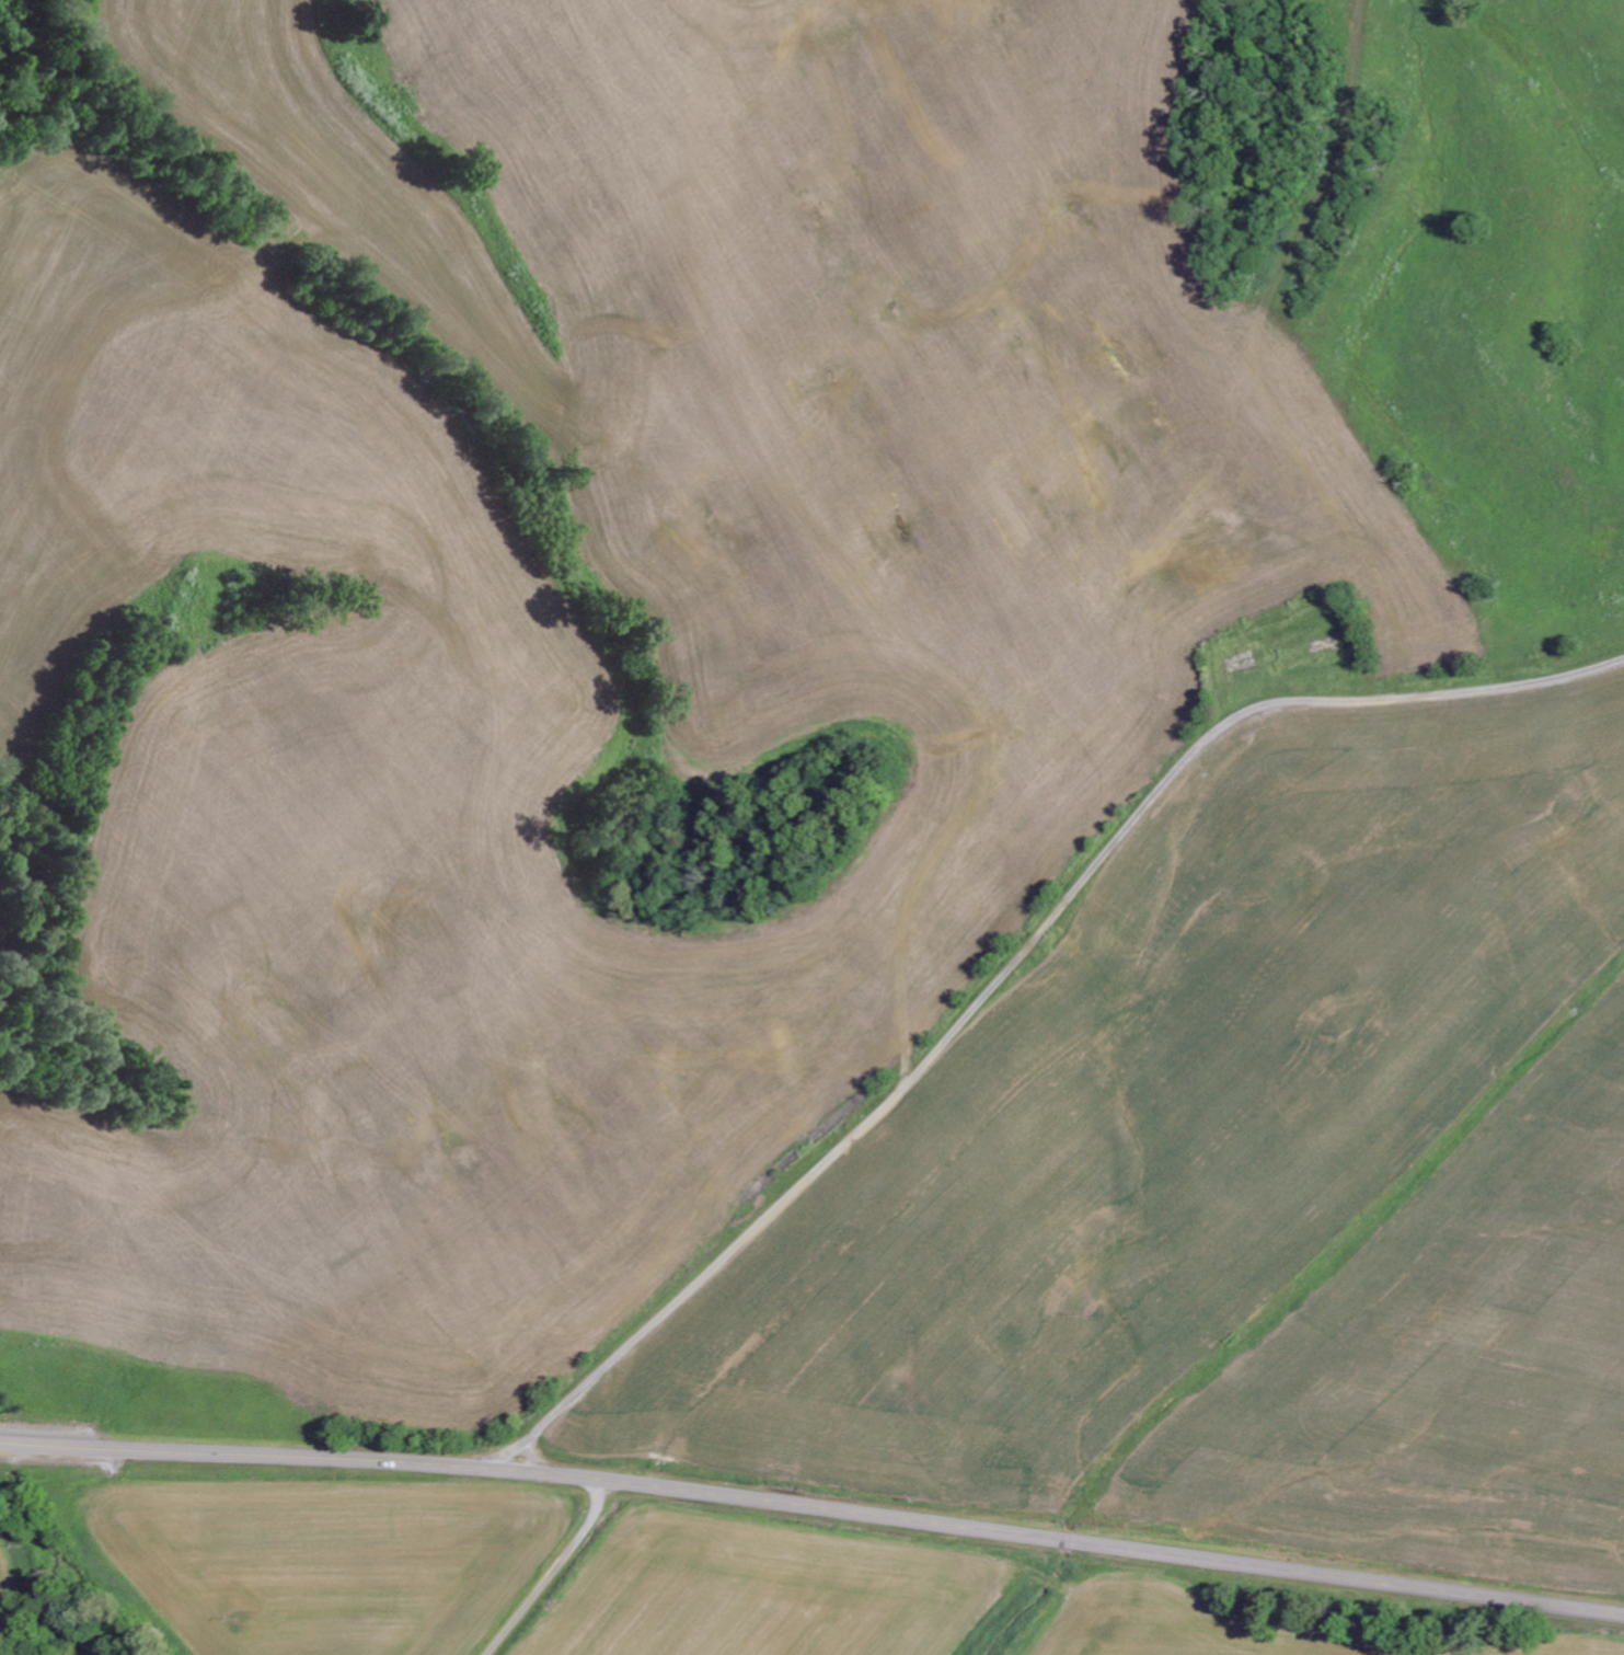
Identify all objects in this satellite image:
road: (970, 919)
road: (814, 1507)
road: (515, 1574)

